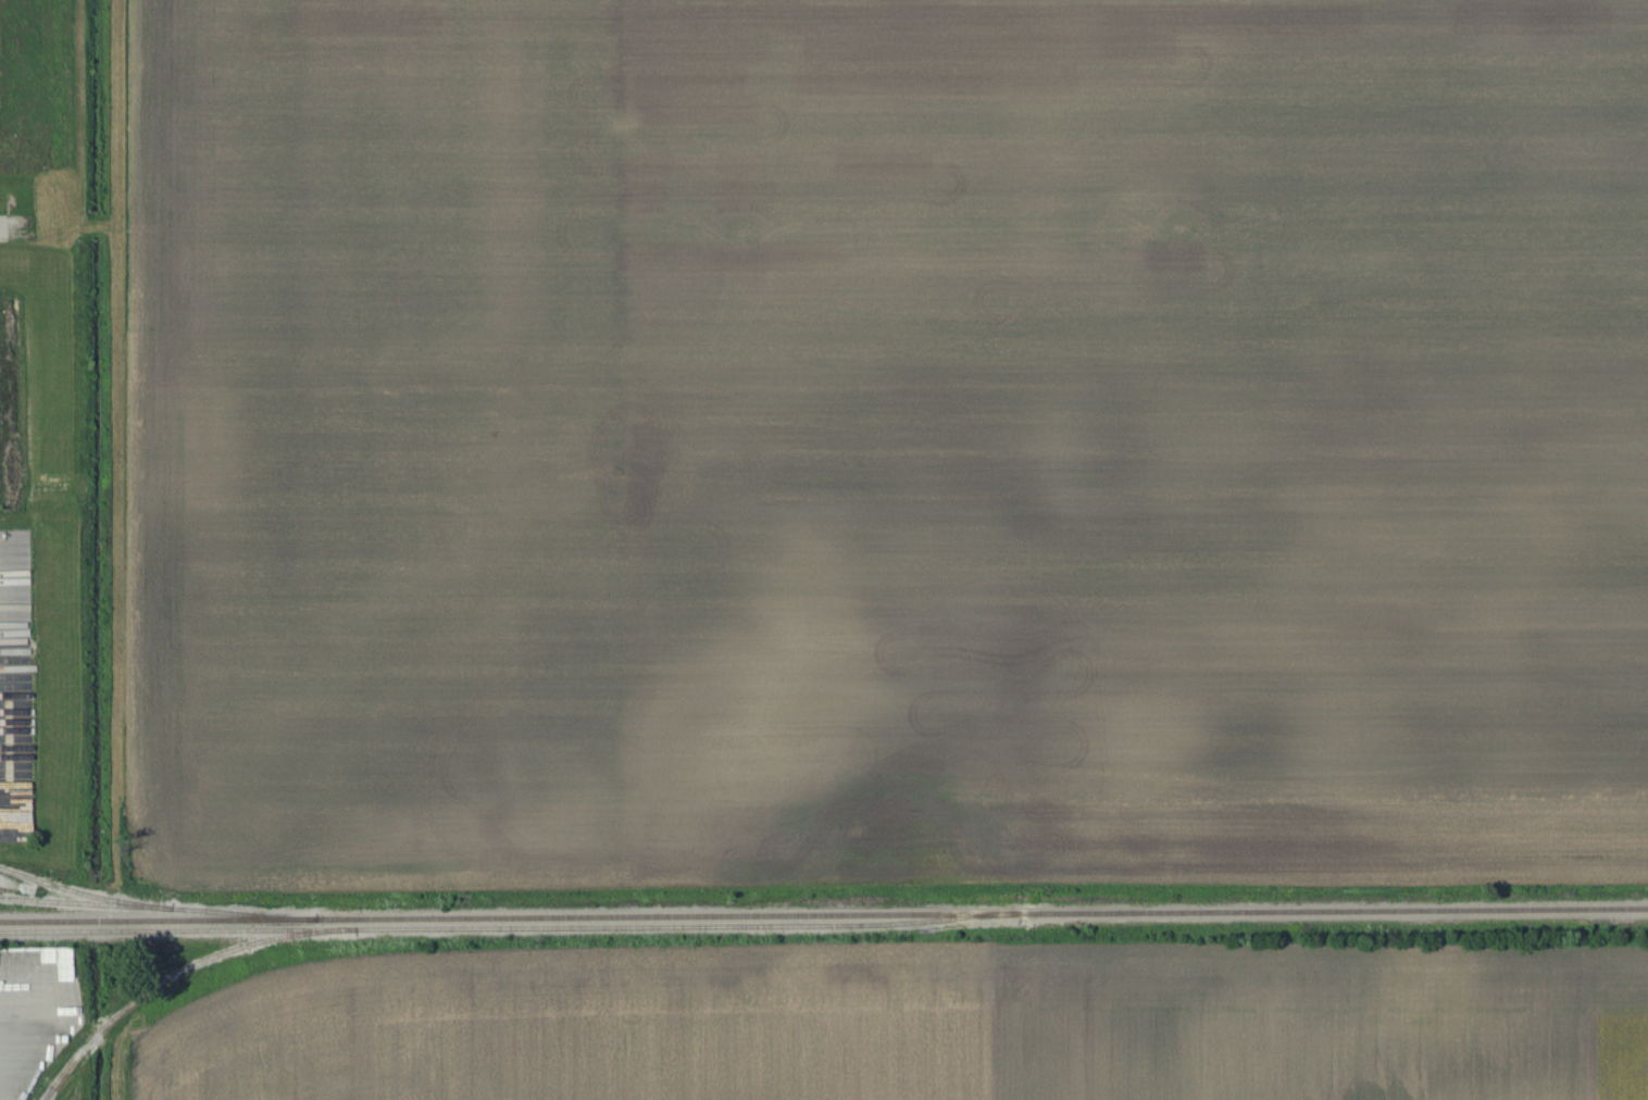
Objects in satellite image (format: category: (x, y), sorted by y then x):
road: (3, 228)
railway: (157, 909)
railway: (824, 916)
railway: (510, 927)
railway: (178, 973)

